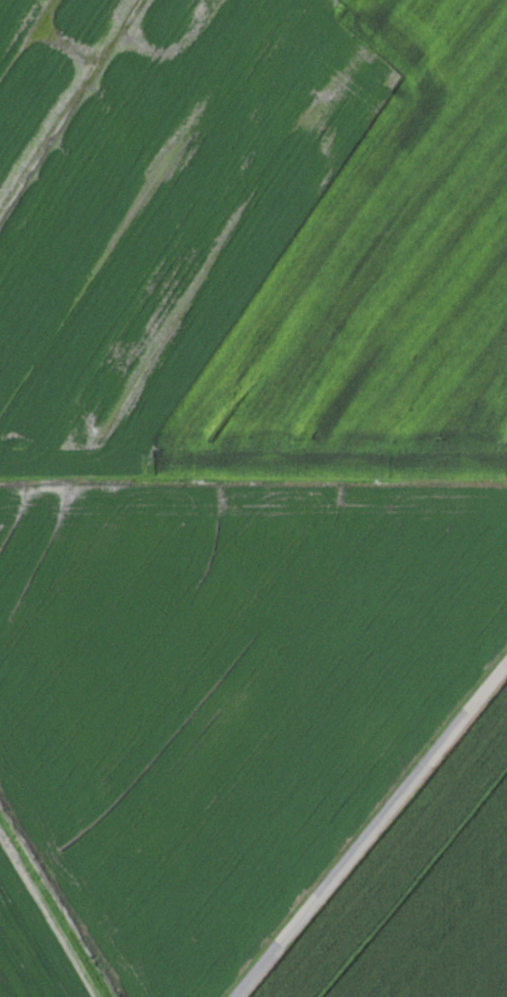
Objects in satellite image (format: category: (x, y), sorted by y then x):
road: (369, 829)
road: (48, 914)

